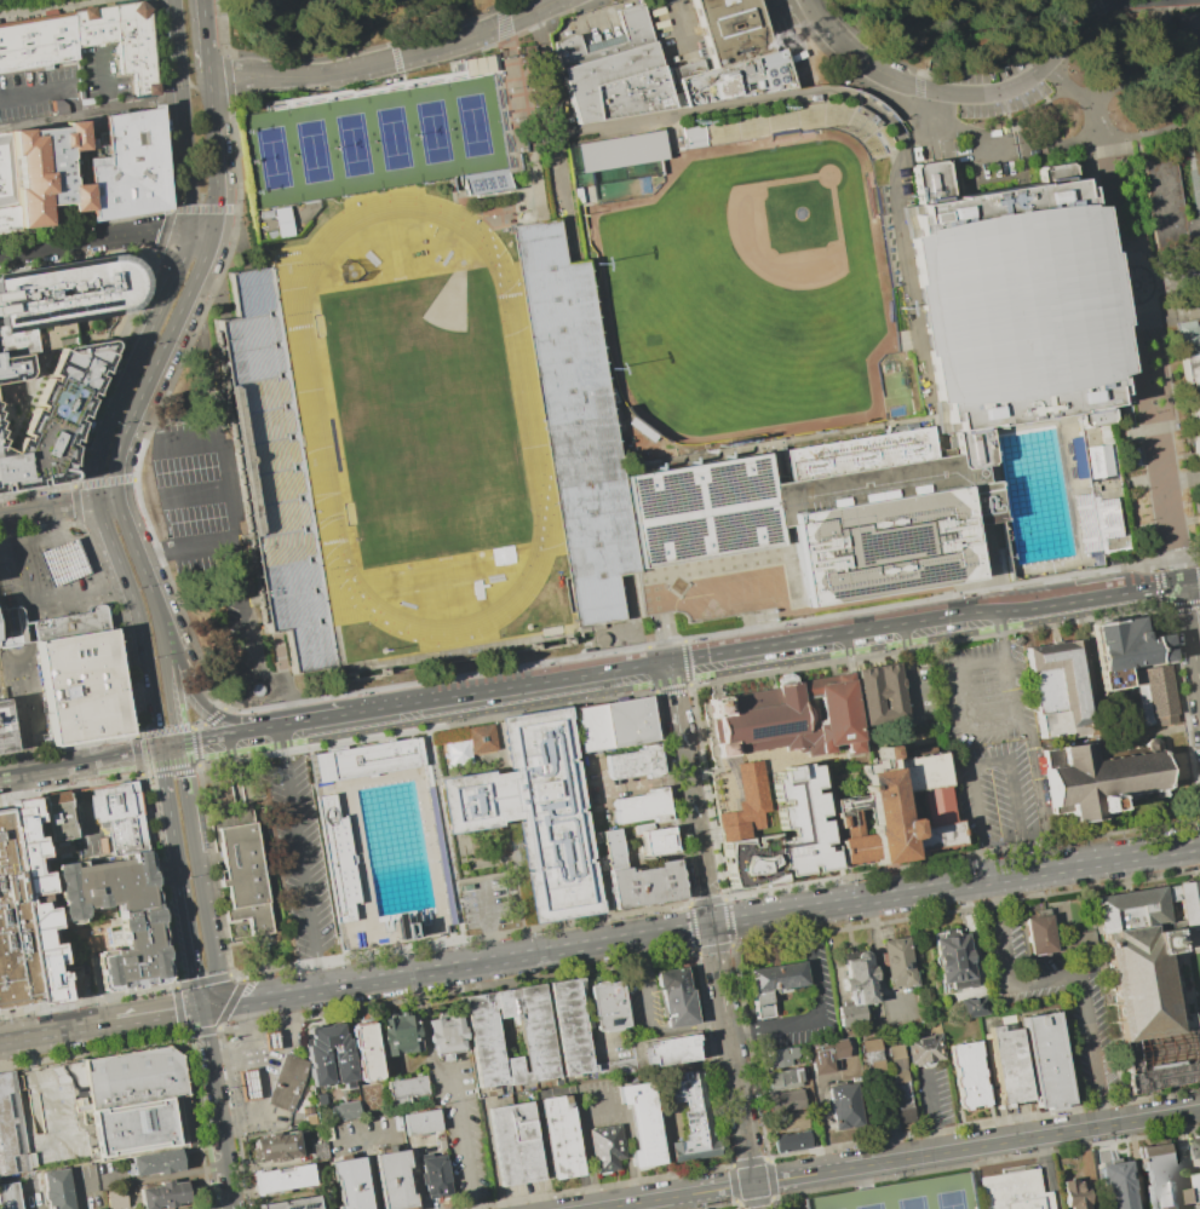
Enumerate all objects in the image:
road: (1115, 1)
road: (783, 4)
road: (1098, 8)
road: (500, 11)
road: (517, 16)
road: (681, 24)
road: (1072, 25)
road: (1109, 25)
road: (205, 33)
building: (1189, 36)
building: (121, 39)
road: (1112, 41)
building: (36, 42)
building: (736, 53)
road: (346, 70)
building: (613, 73)
parking lot: (99, 75)
road: (104, 79)
parking lot: (987, 81)
road: (1119, 81)
road: (193, 86)
road: (920, 87)
parking lot: (36, 94)
road: (46, 94)
road: (1084, 97)
road: (937, 105)
road: (1156, 106)
road: (88, 110)
road: (521, 113)
road: (182, 115)
road: (73, 119)
park: (471, 125)
building: (790, 127)
park: (432, 131)
road: (1196, 131)
road: (920, 132)
road: (977, 132)
road: (74, 138)
park: (391, 138)
building: (505, 139)
road: (1104, 139)
park: (351, 144)
building: (621, 150)
park: (311, 151)
parking lot: (983, 155)
road: (1196, 155)
park: (271, 157)
road: (76, 167)
building: (126, 167)
building: (46, 173)
building: (7, 188)
road: (61, 189)
building: (575, 195)
road: (499, 207)
building: (1172, 215)
building: (281, 221)
road: (62, 223)
road: (200, 232)
road: (93, 238)
road: (903, 282)
road: (1167, 282)
road: (190, 288)
park: (747, 292)
rooftop solar panel: (101, 300)
rooftop solar panel: (109, 300)
building: (59, 303)
rooftop solar panel: (93, 303)
rooftop solar panel: (85, 304)
rooftop solar panel: (74, 305)
building: (1012, 305)
rooftop solar panel: (63, 307)
rooftop solar panel: (45, 309)
rooftop solar panel: (56, 309)
rooftop solar panel: (36, 312)
rooftop solar panel: (27, 313)
rooftop solar panel: (18, 315)
rooftop solar panel: (8, 317)
road: (1146, 362)
road: (134, 364)
building: (12, 368)
building: (1190, 376)
building: (22, 396)
building: (53, 418)
track: (320, 418)
park: (425, 418)
building: (575, 418)
road: (936, 433)
building: (0, 441)
stadium: (421, 441)
building: (275, 471)
rooftop solar panel: (725, 488)
rooftop solar panel: (665, 497)
building: (1075, 497)
road: (108, 500)
parking lot: (196, 501)
road: (48, 508)
building: (699, 508)
building: (884, 516)
road: (1196, 519)
road: (1178, 523)
rooftop solar panel: (728, 528)
rooftop solar panel: (907, 536)
rooftop solar panel: (677, 539)
rooftop solar panel: (874, 543)
road: (991, 558)
road: (142, 565)
road: (791, 568)
rooftop solar panel: (925, 569)
road: (1097, 571)
road: (1198, 571)
rooftop solar panel: (421, 572)
road: (239, 583)
road: (1190, 583)
road: (1158, 585)
rooftop solar panel: (865, 586)
traffic signals: (1182, 586)
road: (128, 587)
rooftop solar panel: (480, 595)
parking lot: (719, 595)
road: (896, 595)
road: (1051, 601)
road: (1183, 605)
road: (786, 611)
building: (41, 620)
road: (857, 626)
road: (747, 627)
road: (999, 632)
road: (662, 634)
road: (1190, 639)
road: (928, 645)
building: (1126, 647)
road: (579, 674)
road: (665, 680)
building: (81, 685)
road: (171, 687)
road: (670, 687)
building: (1060, 689)
road: (150, 690)
building: (257, 690)
building: (882, 692)
parking lot: (919, 692)
building: (1158, 692)
parking lot: (984, 695)
road: (291, 702)
road: (208, 710)
road: (292, 713)
road: (1183, 714)
road: (331, 716)
building: (787, 718)
road: (155, 724)
building: (615, 725)
building: (5, 727)
road: (260, 727)
road: (425, 727)
road: (969, 727)
road: (176, 729)
rooftop solar panel: (528, 729)
rooftop solar panel: (771, 729)
road: (202, 736)
building: (480, 739)
traffic signals: (180, 741)
road: (170, 742)
road: (281, 743)
traffic signals: (159, 744)
road: (67, 745)
road: (194, 745)
traffic signals: (142, 748)
road: (228, 748)
road: (110, 755)
rooftop solar panel: (383, 758)
traffic signals: (183, 759)
building: (364, 760)
traffic signals: (161, 762)
building: (635, 764)
road: (989, 764)
traffic signals: (144, 765)
road: (183, 766)
road: (103, 771)
road: (30, 773)
road: (148, 773)
building: (1098, 781)
road: (69, 787)
road: (235, 788)
road: (1039, 791)
rooftop solar panel: (512, 794)
parking lot: (997, 794)
rooftop solar panel: (469, 804)
building: (643, 806)
road: (168, 811)
building: (534, 811)
building: (897, 811)
building: (119, 814)
rooftop solar panel: (332, 814)
building: (773, 816)
building: (56, 818)
road: (442, 833)
building: (656, 839)
road: (696, 840)
road: (157, 841)
rooftop solar panel: (533, 851)
road: (298, 858)
rooftop solar panel: (334, 858)
parking lot: (299, 859)
building: (335, 860)
parking lot: (248, 873)
building: (638, 876)
building: (241, 881)
rooftop solar panel: (552, 886)
building: (36, 900)
road: (203, 902)
parking lot: (484, 904)
road: (488, 921)
building: (110, 923)
road: (716, 925)
traffic signals: (710, 926)
building: (12, 928)
building: (406, 929)
building: (1040, 934)
building: (1085, 937)
road: (189, 943)
road: (262, 949)
building: (953, 960)
building: (895, 965)
road: (317, 971)
road: (1064, 978)
road: (266, 980)
road: (1192, 981)
road: (639, 984)
building: (773, 984)
building: (1148, 985)
building: (856, 986)
building: (674, 997)
parking lot: (1055, 997)
road: (214, 1004)
building: (608, 1006)
building: (976, 1006)
traffic signals: (199, 1008)
road: (191, 1009)
road: (816, 1009)
traffic signals: (185, 1011)
road: (150, 1015)
rooftop solar panel: (615, 1019)
road: (246, 1021)
road: (685, 1027)
road: (727, 1027)
building: (569, 1030)
road: (57, 1031)
building: (400, 1034)
road: (282, 1036)
road: (270, 1038)
building: (447, 1038)
building: (483, 1038)
road: (248, 1041)
building: (270, 1041)
road: (220, 1046)
building: (924, 1049)
building: (671, 1050)
building: (364, 1052)
building: (825, 1054)
road: (249, 1055)
building: (777, 1057)
building: (871, 1057)
road: (237, 1058)
building: (1045, 1059)
building: (318, 1065)
building: (1006, 1065)
building: (616, 1069)
road: (271, 1071)
building: (968, 1073)
gas station: (271, 1078)
building: (782, 1078)
building: (898, 1082)
building: (287, 1083)
road: (254, 1084)
road: (242, 1086)
building: (247, 1086)
road: (46, 1087)
building: (407, 1088)
building: (320, 1099)
building: (785, 1099)
building: (136, 1101)
building: (843, 1104)
road: (257, 1105)
road: (740, 1106)
road: (217, 1107)
road: (200, 1109)
road: (246, 1110)
building: (343, 1110)
road: (932, 1115)
building: (691, 1117)
building: (308, 1118)
building: (788, 1121)
building: (421, 1122)
building: (642, 1123)
road: (822, 1123)
building: (8, 1127)
building: (562, 1136)
road: (461, 1139)
building: (791, 1140)
road: (361, 1141)
building: (515, 1144)
road: (588, 1145)
road: (976, 1145)
building: (1198, 1145)
building: (275, 1147)
building: (316, 1147)
building: (607, 1147)
building: (155, 1163)
building: (1085, 1164)
road: (1050, 1171)
road: (369, 1175)
building: (434, 1176)
building: (1159, 1176)
building: (281, 1178)
building: (392, 1180)
building: (350, 1182)
building: (1116, 1185)
building: (56, 1188)
building: (1015, 1191)
building: (1193, 1191)
building: (163, 1194)
road: (667, 1194)
road: (754, 1194)
building: (1075, 1194)
building: (8, 1196)
building: (903, 1196)
parking lot: (903, 1196)
building: (115, 1199)
park: (949, 1199)
park: (911, 1203)
building: (292, 1204)
rooftop solar panel: (305, 1205)
park: (869, 1207)
building: (99, 1208)
rooftop solar panel: (287, 1208)
building: (1199, 1208)

